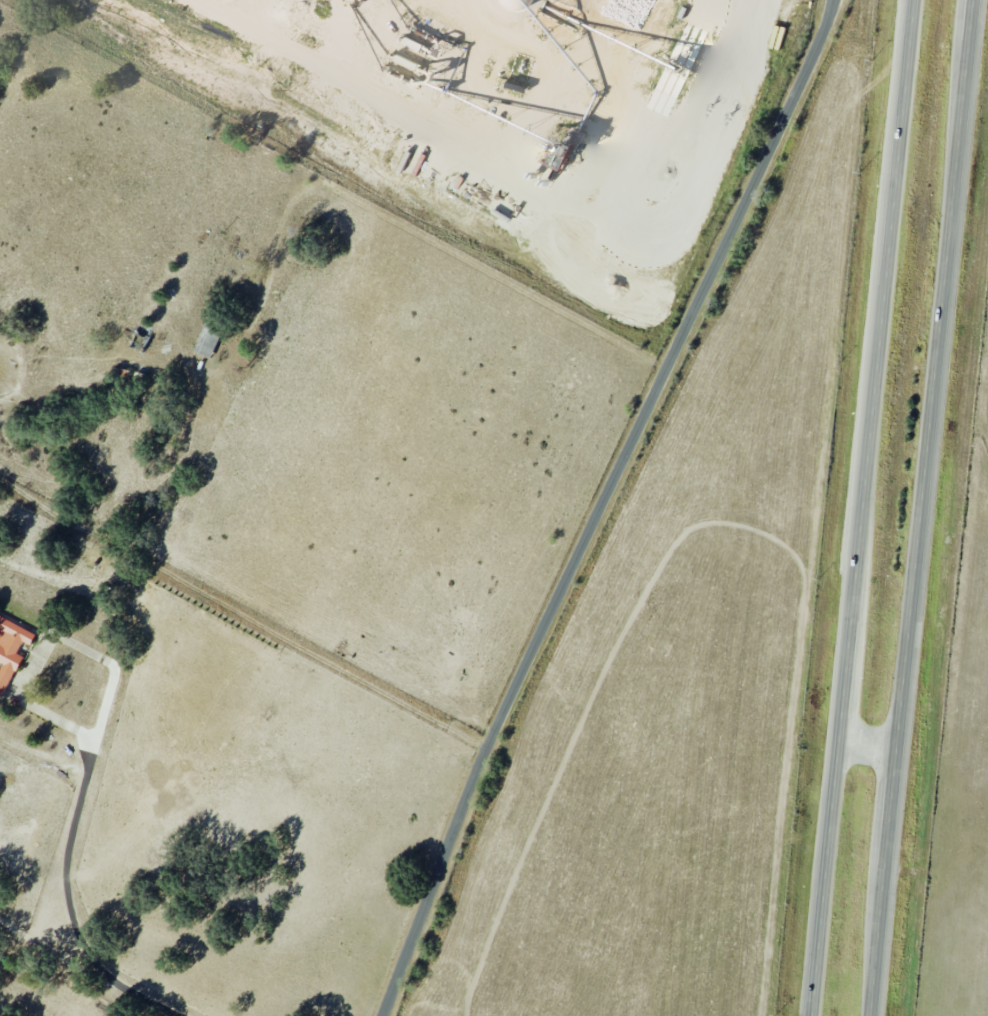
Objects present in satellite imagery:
building: (562, 148)
road: (413, 232)
road: (605, 505)
road: (862, 507)
road: (921, 507)
building: (11, 649)
road: (869, 744)
road: (67, 871)

